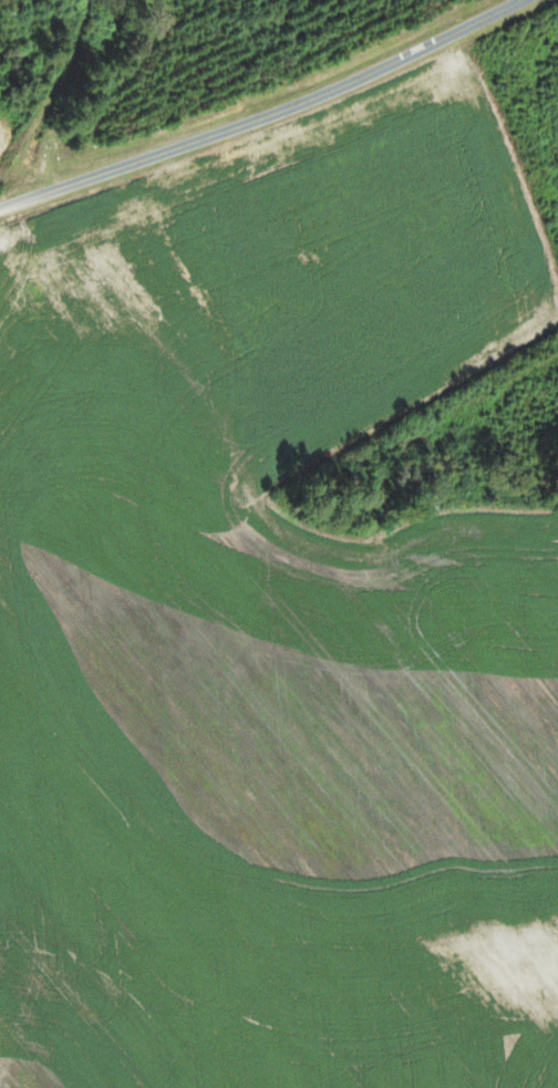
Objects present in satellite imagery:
railway: (43, 86)
road: (267, 116)

